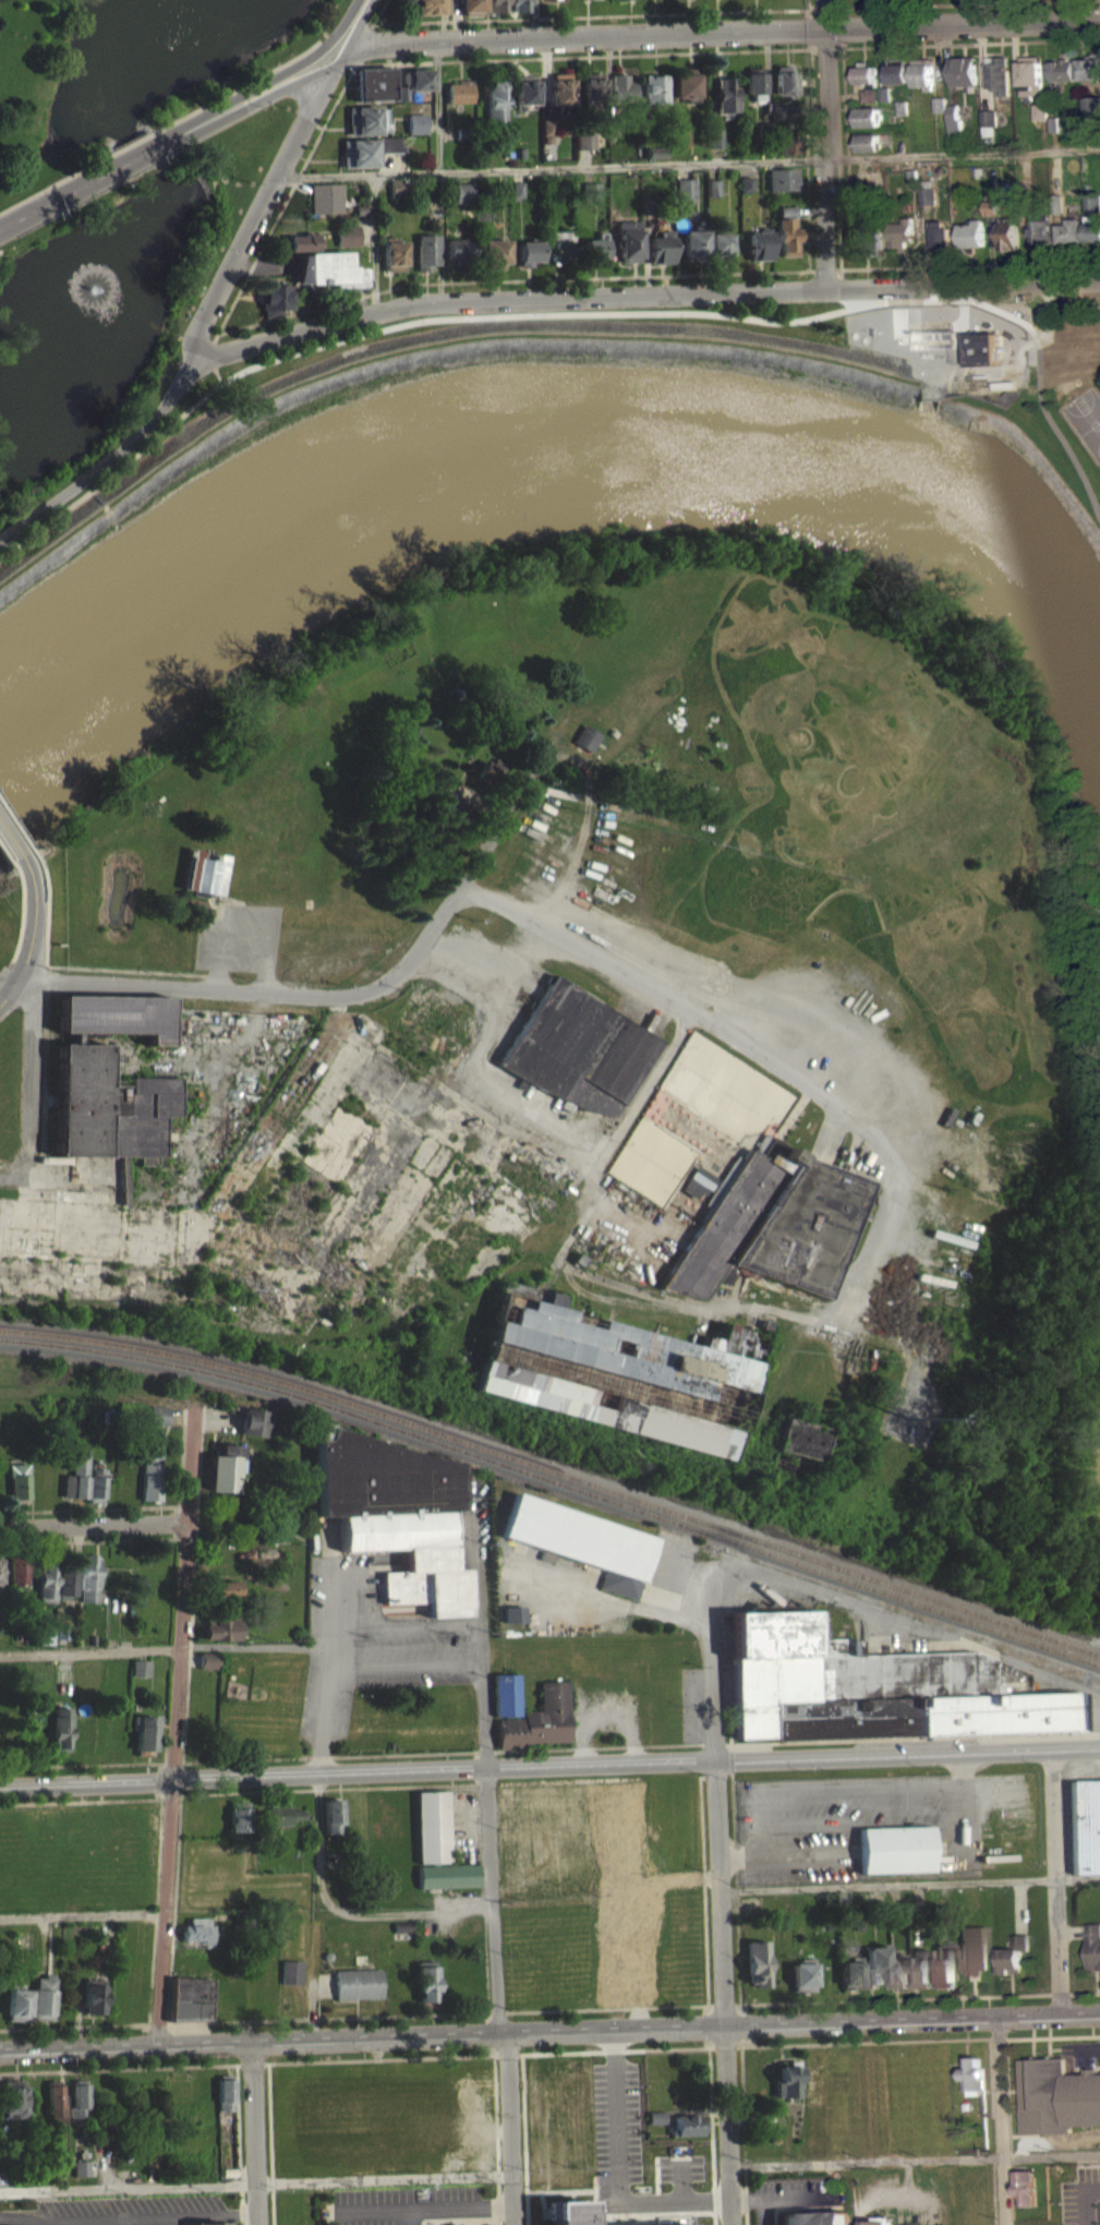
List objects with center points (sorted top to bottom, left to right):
building: (653, 0)
building: (554, 2)
building: (592, 2)
building: (684, 2)
building: (624, 3)
road: (805, 4)
road: (958, 4)
road: (834, 9)
building: (497, 10)
building: (519, 10)
road: (378, 11)
building: (428, 11)
building: (471, 11)
road: (596, 15)
road: (346, 16)
road: (534, 17)
road: (351, 19)
road: (807, 28)
road: (722, 31)
road: (386, 43)
road: (954, 44)
road: (339, 50)
road: (537, 57)
building: (1088, 67)
building: (895, 70)
building: (962, 71)
building: (1057, 72)
building: (920, 73)
building: (861, 74)
building: (1028, 74)
building: (995, 75)
road: (293, 77)
building: (416, 79)
building: (786, 80)
building: (757, 82)
building: (895, 82)
building: (687, 83)
building: (373, 84)
building: (594, 86)
building: (625, 87)
building: (561, 88)
building: (656, 89)
building: (525, 91)
building: (401, 93)
building: (459, 93)
building: (881, 93)
building: (868, 95)
building: (728, 96)
building: (495, 99)
building: (935, 103)
building: (867, 104)
road: (436, 105)
building: (1091, 106)
building: (897, 107)
building: (781, 110)
building: (1036, 111)
building: (862, 117)
building: (366, 120)
building: (951, 120)
building: (1036, 120)
building: (984, 121)
building: (416, 123)
building: (1049, 124)
road: (159, 128)
building: (766, 128)
building: (549, 129)
building: (614, 130)
building: (1089, 131)
building: (462, 133)
road: (171, 135)
building: (685, 136)
road: (843, 136)
building: (717, 137)
building: (588, 139)
building: (863, 142)
building: (1089, 142)
building: (790, 143)
road: (826, 143)
building: (685, 145)
building: (366, 149)
building: (588, 149)
building: (863, 151)
building: (522, 152)
building: (658, 152)
building: (789, 153)
road: (686, 164)
building: (907, 177)
building: (786, 178)
building: (750, 183)
building: (717, 187)
building: (399, 188)
building: (689, 189)
building: (503, 190)
building: (519, 190)
building: (594, 191)
building: (464, 192)
building: (750, 192)
building: (922, 194)
building: (867, 195)
building: (325, 197)
building: (1022, 197)
park: (123, 203)
building: (654, 203)
building: (921, 203)
building: (986, 206)
building: (437, 208)
building: (361, 209)
building: (791, 211)
road: (254, 213)
building: (986, 215)
building: (437, 217)
building: (1089, 218)
building: (1067, 230)
building: (895, 232)
building: (1004, 233)
building: (1036, 233)
building: (966, 234)
building: (347, 236)
building: (791, 236)
building: (935, 236)
building: (867, 239)
building: (632, 240)
building: (301, 242)
road: (374, 242)
building: (723, 243)
building: (764, 243)
building: (698, 244)
building: (563, 245)
building: (600, 246)
building: (665, 248)
building: (298, 250)
building: (462, 250)
building: (428, 251)
building: (532, 251)
building: (497, 252)
building: (395, 253)
building: (868, 253)
road: (971, 263)
building: (330, 269)
road: (829, 269)
road: (844, 270)
road: (511, 278)
road: (846, 287)
road: (639, 294)
building: (271, 296)
fountain: (92, 297)
road: (846, 304)
road: (584, 311)
road: (211, 353)
building: (977, 356)
road: (217, 374)
park: (1084, 418)
river: (561, 430)
road: (102, 462)
building: (454, 699)
building: (430, 715)
building: (464, 735)
building: (585, 744)
road: (600, 750)
road: (575, 759)
road: (467, 767)
building: (485, 779)
road: (455, 799)
road: (476, 806)
building: (448, 818)
road: (585, 828)
road: (15, 831)
road: (496, 837)
road: (10, 847)
road: (4, 863)
building: (203, 880)
road: (223, 887)
road: (228, 909)
road: (218, 917)
road: (33, 919)
road: (20, 929)
road: (221, 934)
road: (242, 943)
parking lot: (240, 946)
road: (489, 970)
road: (64, 974)
road: (210, 983)
road: (11, 991)
road: (264, 1000)
road: (756, 1056)
building: (578, 1057)
building: (83, 1069)
road: (211, 1070)
road: (31, 1078)
road: (45, 1079)
park: (724, 1096)
road: (283, 1115)
road: (615, 1145)
road: (23, 1165)
road: (2, 1167)
road: (589, 1168)
park: (652, 1168)
road: (20, 1184)
building: (697, 1191)
road: (896, 1205)
building: (771, 1232)
road: (184, 1244)
road: (753, 1316)
building: (619, 1381)
building: (157, 1415)
building: (254, 1422)
building: (798, 1446)
road: (181, 1467)
building: (223, 1468)
building: (76, 1476)
building: (150, 1477)
building: (20, 1480)
railway: (555, 1480)
building: (96, 1484)
railway: (555, 1490)
road: (89, 1508)
building: (397, 1514)
road: (94, 1523)
road: (88, 1540)
building: (581, 1540)
building: (20, 1568)
building: (89, 1577)
road: (194, 1578)
building: (47, 1583)
building: (65, 1583)
building: (226, 1588)
building: (0, 1591)
building: (225, 1597)
building: (513, 1614)
building: (513, 1622)
road: (408, 1627)
building: (221, 1629)
building: (61, 1631)
building: (45, 1635)
building: (60, 1639)
building: (45, 1644)
parking lot: (376, 1647)
road: (167, 1648)
building: (208, 1660)
road: (406, 1664)
building: (140, 1667)
building: (207, 1669)
road: (329, 1672)
building: (138, 1676)
building: (869, 1687)
building: (506, 1694)
building: (539, 1719)
road: (176, 1723)
building: (61, 1729)
building: (144, 1732)
road: (549, 1748)
road: (164, 1758)
road: (636, 1761)
road: (157, 1779)
road: (486, 1781)
road: (86, 1782)
road: (333, 1788)
road: (833, 1788)
road: (156, 1792)
road: (170, 1794)
road: (83, 1801)
building: (629, 1805)
building: (285, 1815)
building: (239, 1816)
building: (334, 1816)
building: (285, 1824)
building: (1084, 1825)
building: (895, 1849)
building: (437, 1854)
road: (1055, 1879)
road: (703, 1881)
road: (909, 1883)
road: (720, 1901)
road: (173, 1913)
road: (155, 1914)
road: (82, 1923)
road: (180, 1933)
building: (612, 1935)
building: (197, 1938)
building: (1093, 1945)
building: (972, 1948)
building: (1013, 1953)
building: (756, 1962)
building: (875, 1964)
building: (944, 1964)
building: (920, 1967)
building: (290, 1972)
building: (849, 1972)
building: (899, 1972)
building: (800, 1974)
building: (426, 1980)
building: (358, 1983)
building: (92, 1996)
building: (43, 1997)
building: (16, 2002)
building: (182, 2006)
road: (632, 2006)
building: (202, 2007)
road: (704, 2025)
road: (549, 2028)
road: (148, 2033)
road: (157, 2033)
road: (166, 2033)
road: (73, 2034)
street lamp: (140, 2040)
road: (549, 2052)
building: (974, 2074)
road: (0, 2080)
building: (786, 2081)
building: (812, 2084)
building: (225, 2092)
road: (1010, 2096)
building: (1057, 2096)
building: (575, 2097)
building: (77, 2100)
building: (12, 2101)
building: (55, 2105)
road: (1000, 2118)
building: (687, 2125)
building: (655, 2126)
road: (509, 2127)
road: (254, 2131)
road: (744, 2134)
road: (711, 2136)
road: (271, 2143)
road: (240, 2144)
building: (689, 2162)
building: (81, 2167)
road: (549, 2172)
building: (80, 2176)
building: (1026, 2187)
parking lot: (790, 2194)
road: (751, 2199)
parking lot: (690, 2205)
road: (799, 2206)
road: (814, 2210)
building: (1097, 2216)
building: (817, 2218)
building: (883, 2221)
building: (206, 2222)

